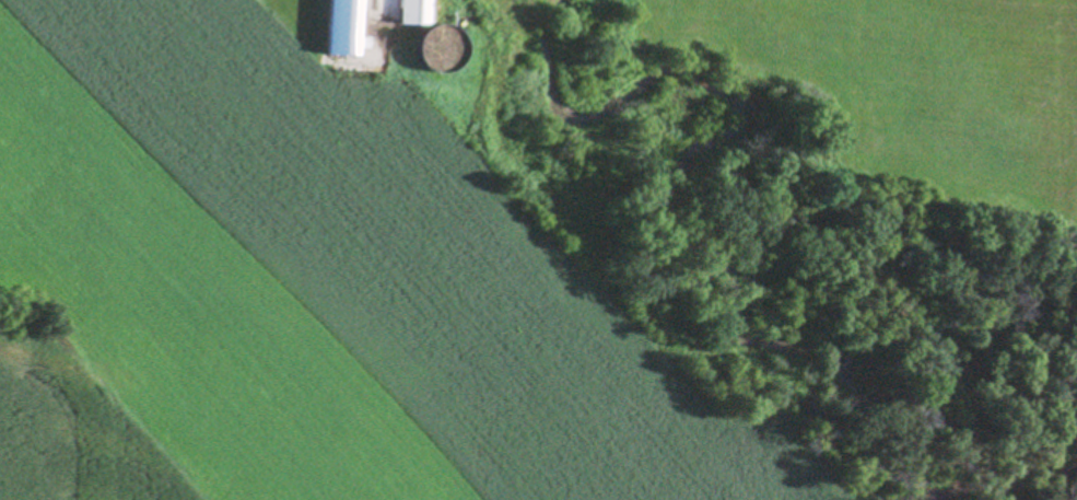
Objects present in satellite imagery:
building: (418, 11)
building: (347, 27)

